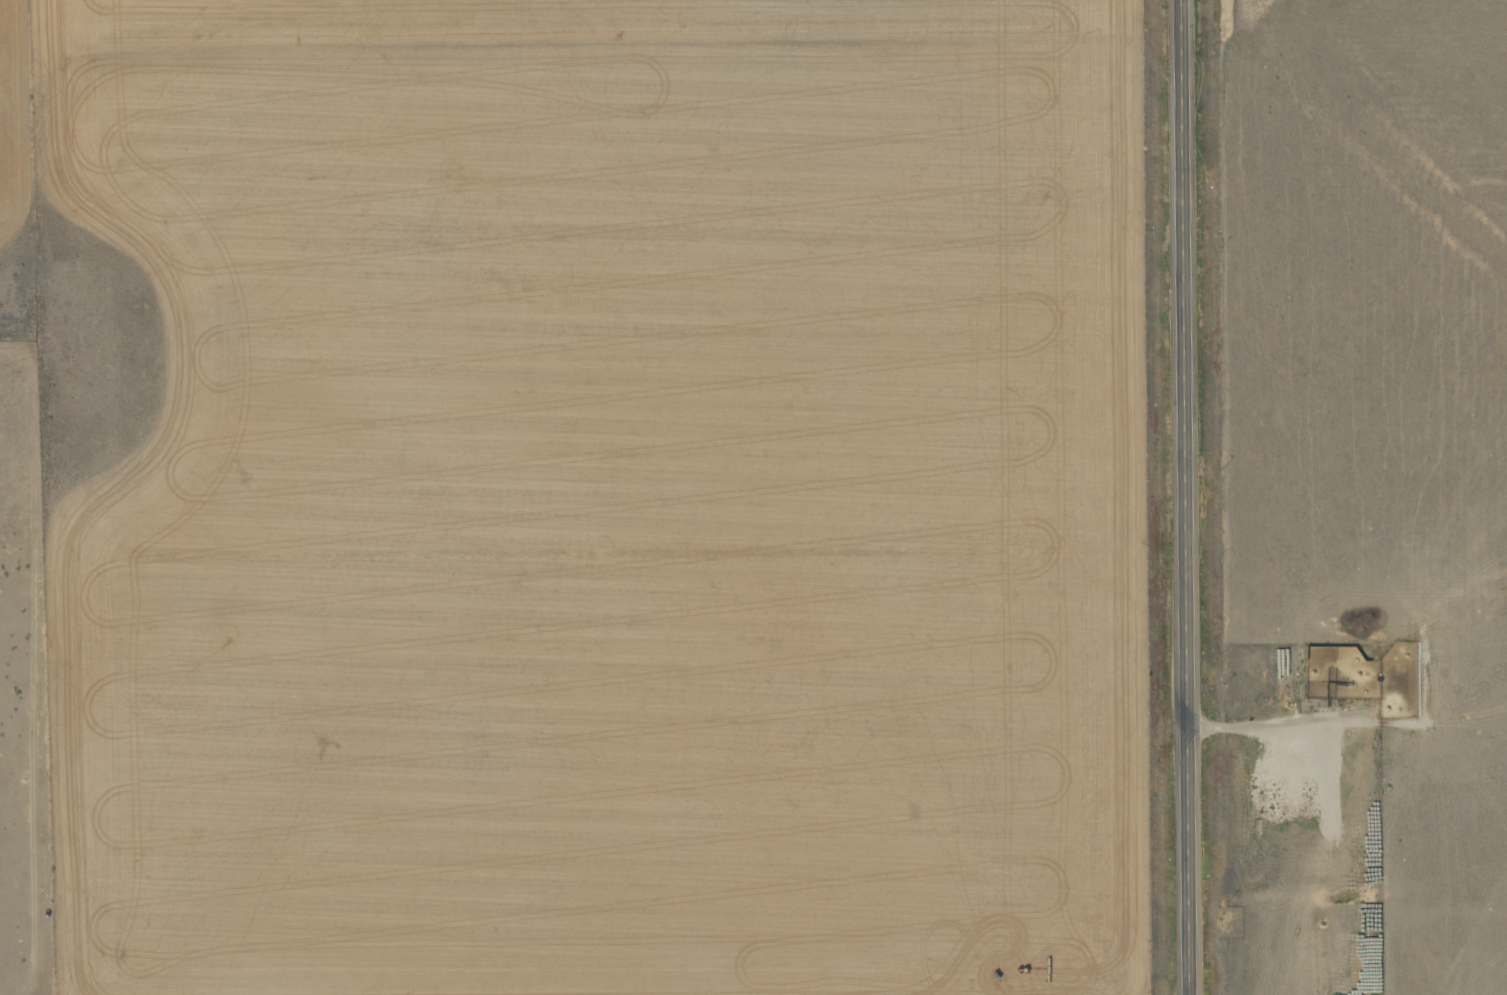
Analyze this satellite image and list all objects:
road: (1183, 497)
park: (1229, 921)

